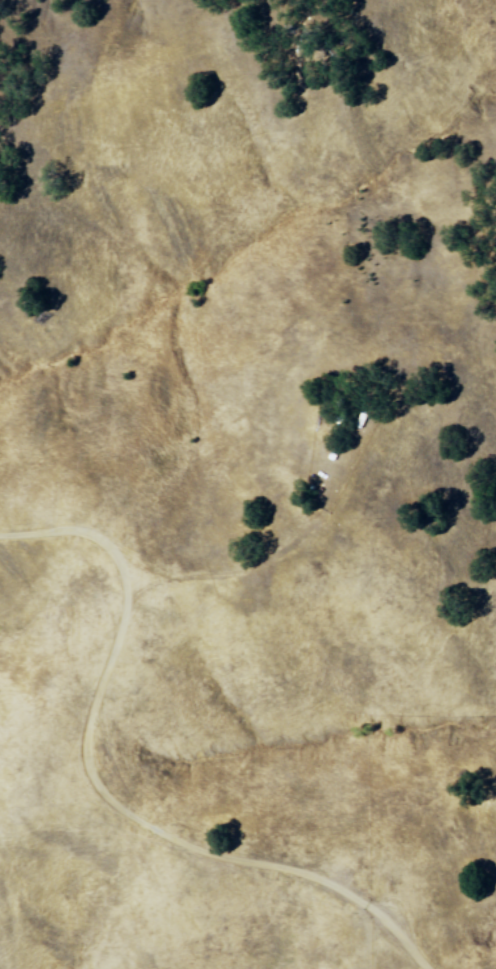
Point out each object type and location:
road: (110, 792)

